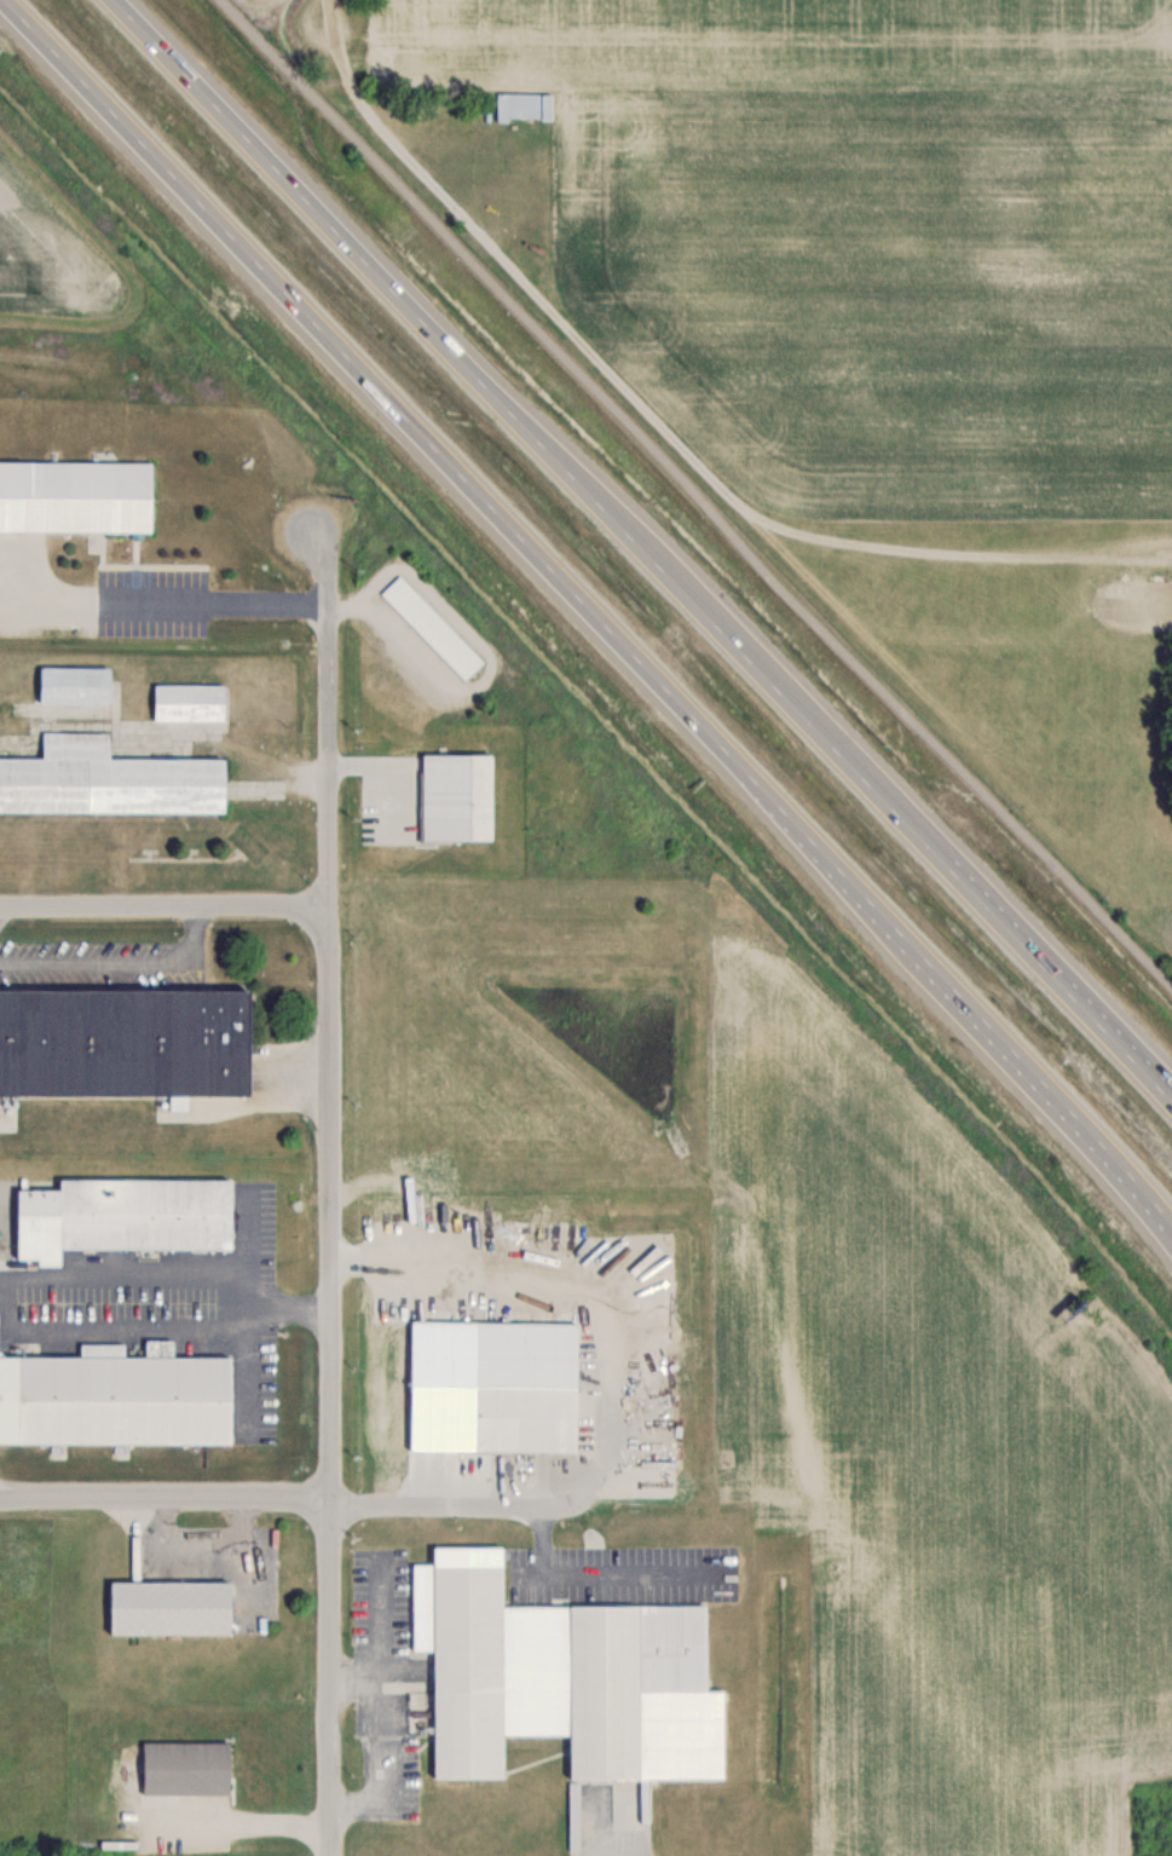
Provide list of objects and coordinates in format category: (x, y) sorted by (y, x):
building: (523, 104)
road: (658, 420)
road: (694, 492)
building: (75, 496)
road: (646, 549)
road: (164, 601)
road: (590, 609)
building: (432, 626)
road: (677, 640)
building: (73, 685)
building: (187, 702)
building: (105, 779)
building: (456, 796)
road: (163, 907)
road: (110, 959)
road: (333, 1188)
building: (121, 1216)
road: (7, 1273)
road: (2, 1292)
building: (115, 1397)
building: (523, 1418)
road: (166, 1499)
road: (477, 1501)
road: (593, 1573)
building: (167, 1608)
building: (542, 1667)
road: (352, 1673)
road: (374, 1696)
building: (184, 1768)
road: (237, 1821)

